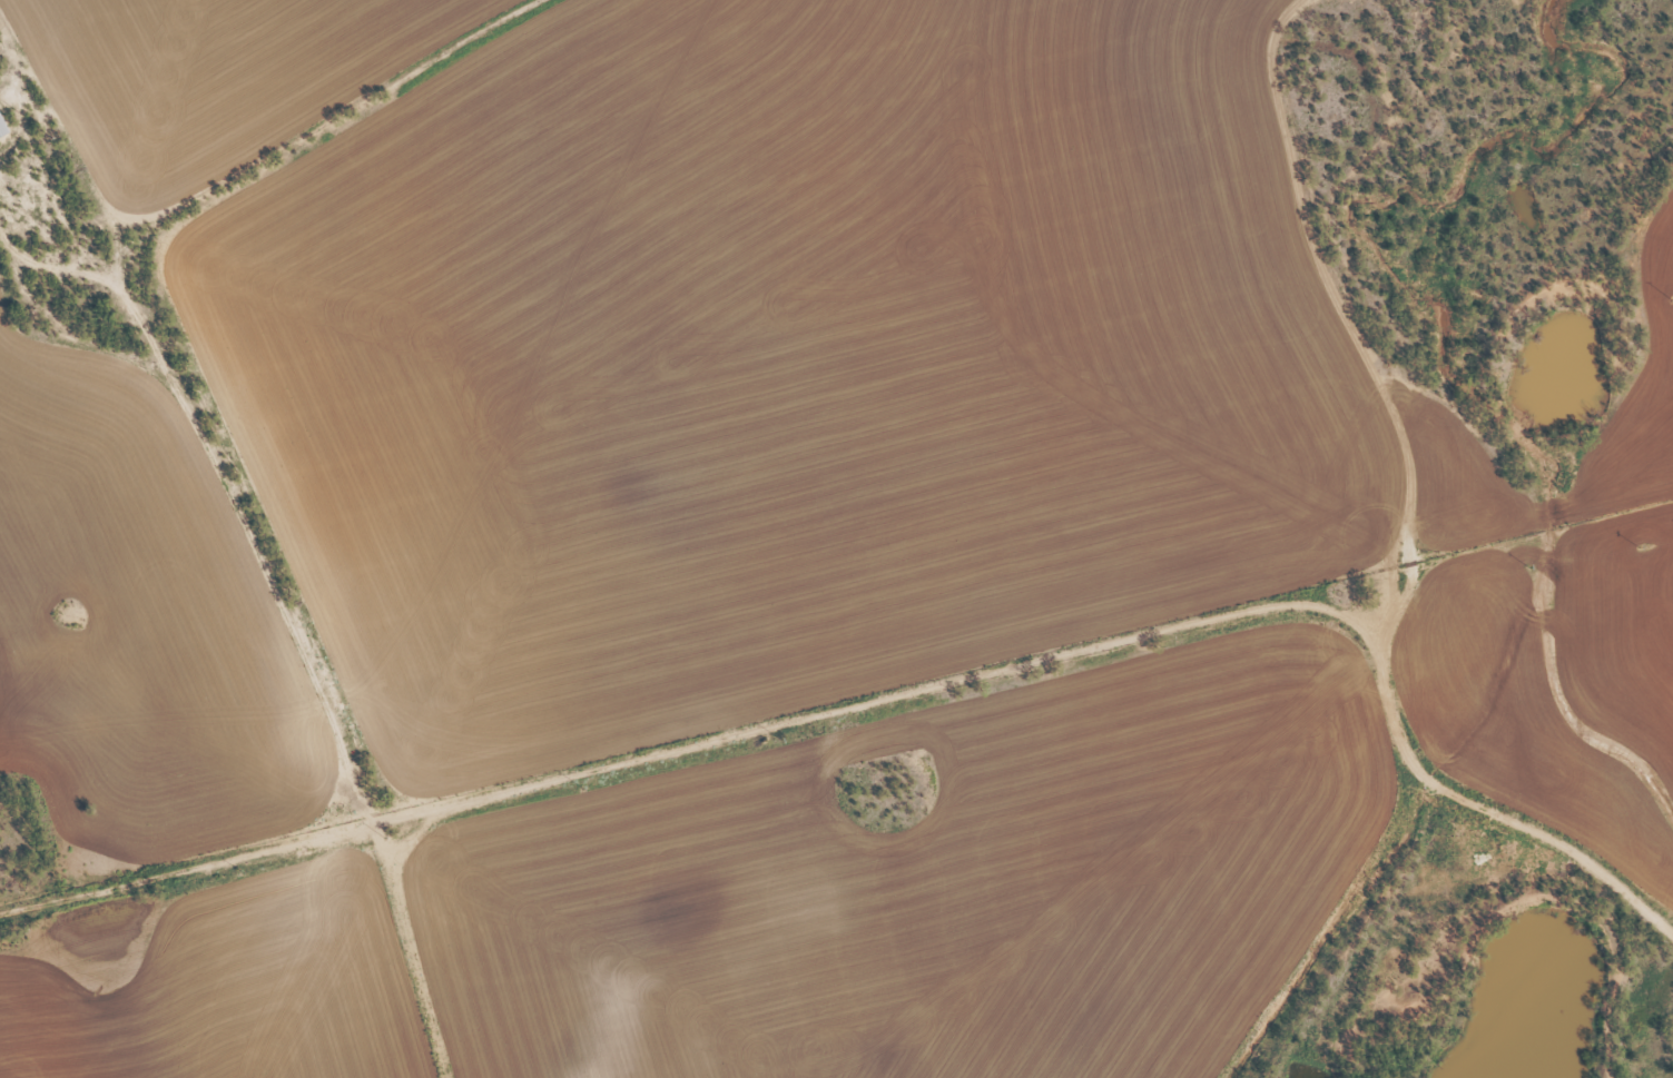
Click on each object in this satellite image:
road: (227, 489)
road: (1325, 505)
road: (676, 752)

